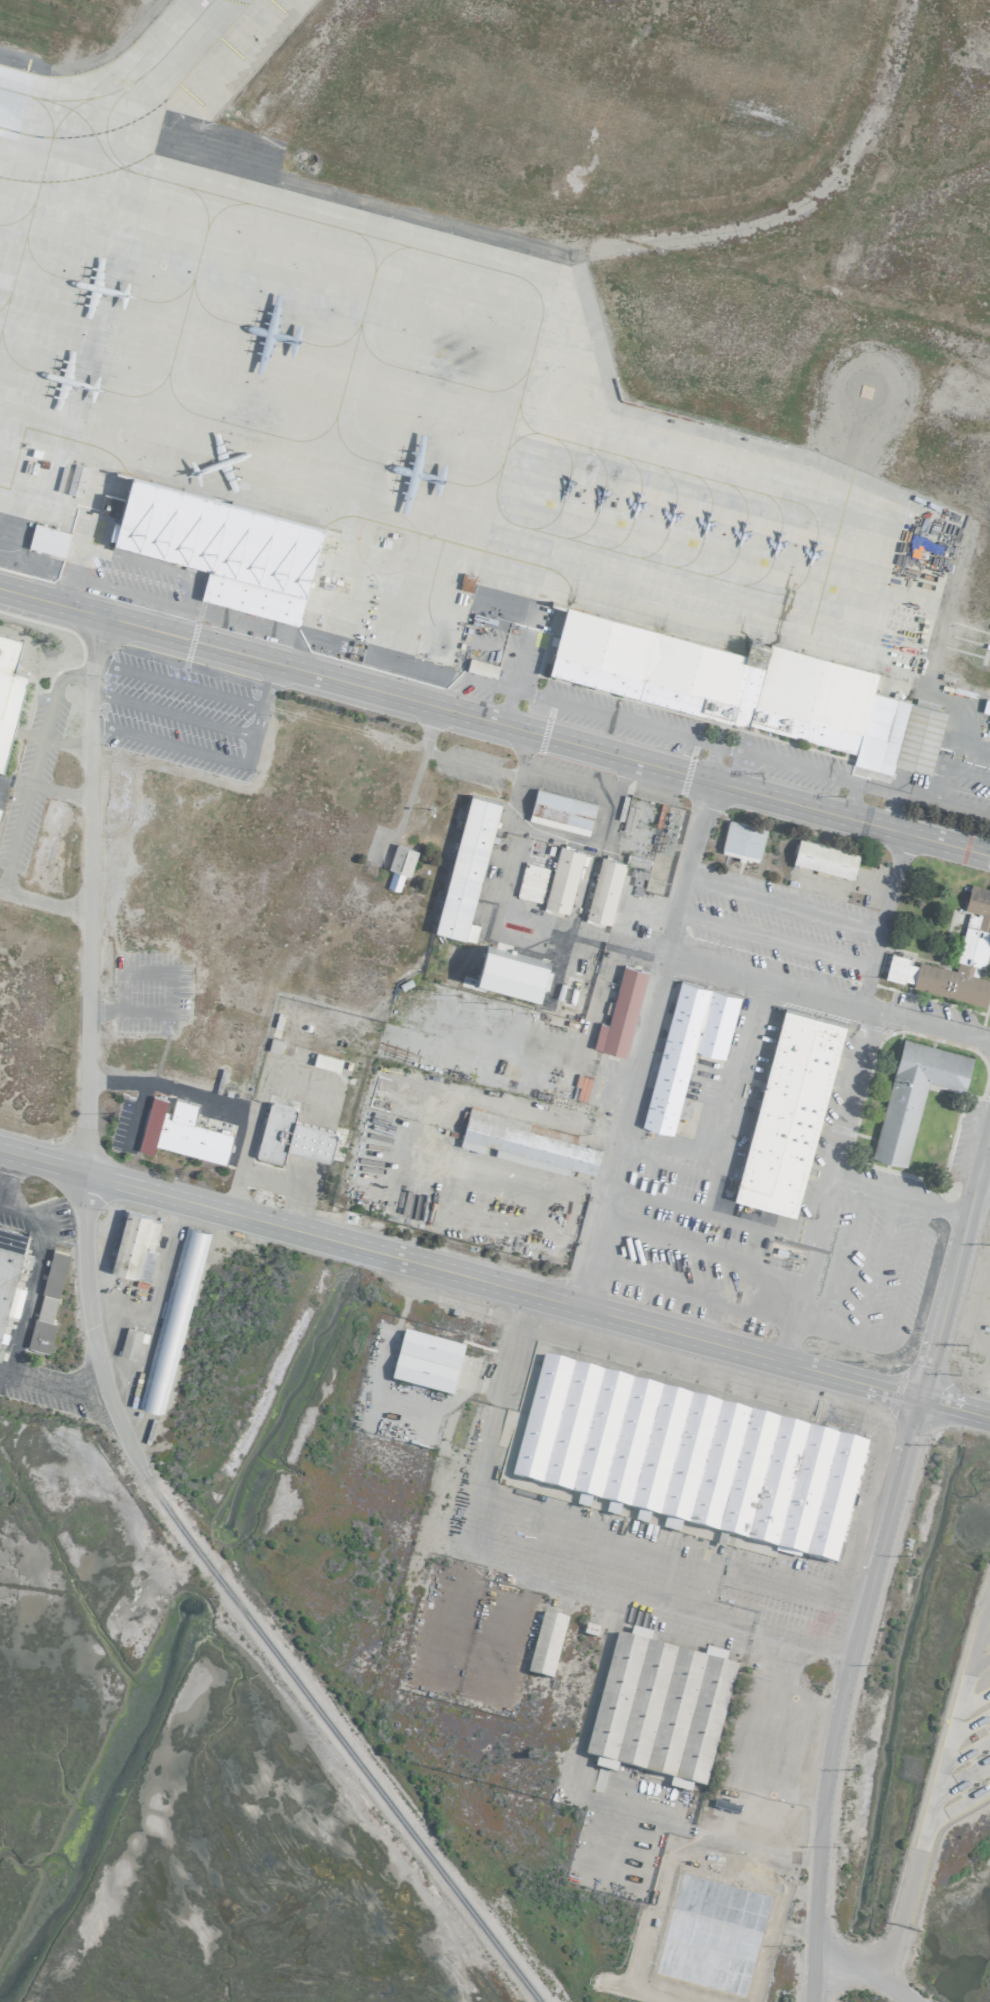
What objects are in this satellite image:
airport taxiway: (125, 89)
airport apron: (414, 406)
building: (109, 504)
building: (47, 539)
building: (222, 545)
road: (185, 638)
building: (481, 667)
road: (266, 684)
building: (745, 687)
building: (8, 690)
road: (169, 712)
road: (253, 725)
road: (680, 772)
building: (560, 811)
building: (741, 840)
road: (9, 850)
building: (823, 857)
building: (400, 858)
building: (466, 867)
building: (561, 879)
building: (393, 880)
road: (892, 881)
building: (530, 882)
building: (603, 889)
road: (820, 914)
road: (773, 939)
building: (973, 941)
building: (511, 970)
road: (828, 997)
airport: (495, 1001)
building: (619, 1013)
road: (641, 1042)
building: (274, 1044)
building: (686, 1047)
building: (913, 1093)
building: (788, 1111)
building: (180, 1131)
building: (290, 1135)
building: (526, 1142)
road: (6, 1171)
road: (984, 1171)
road: (827, 1186)
road: (874, 1194)
road: (12, 1210)
road: (942, 1211)
building: (134, 1245)
building: (10, 1269)
road: (494, 1283)
building: (46, 1301)
building: (172, 1313)
road: (798, 1320)
road: (20, 1330)
building: (129, 1342)
building: (1, 1343)
building: (425, 1361)
road: (99, 1376)
building: (690, 1459)
road: (883, 1525)
road: (565, 1542)
building: (545, 1642)
building: (658, 1708)
road: (913, 1868)
road: (811, 1967)
road: (864, 1967)

